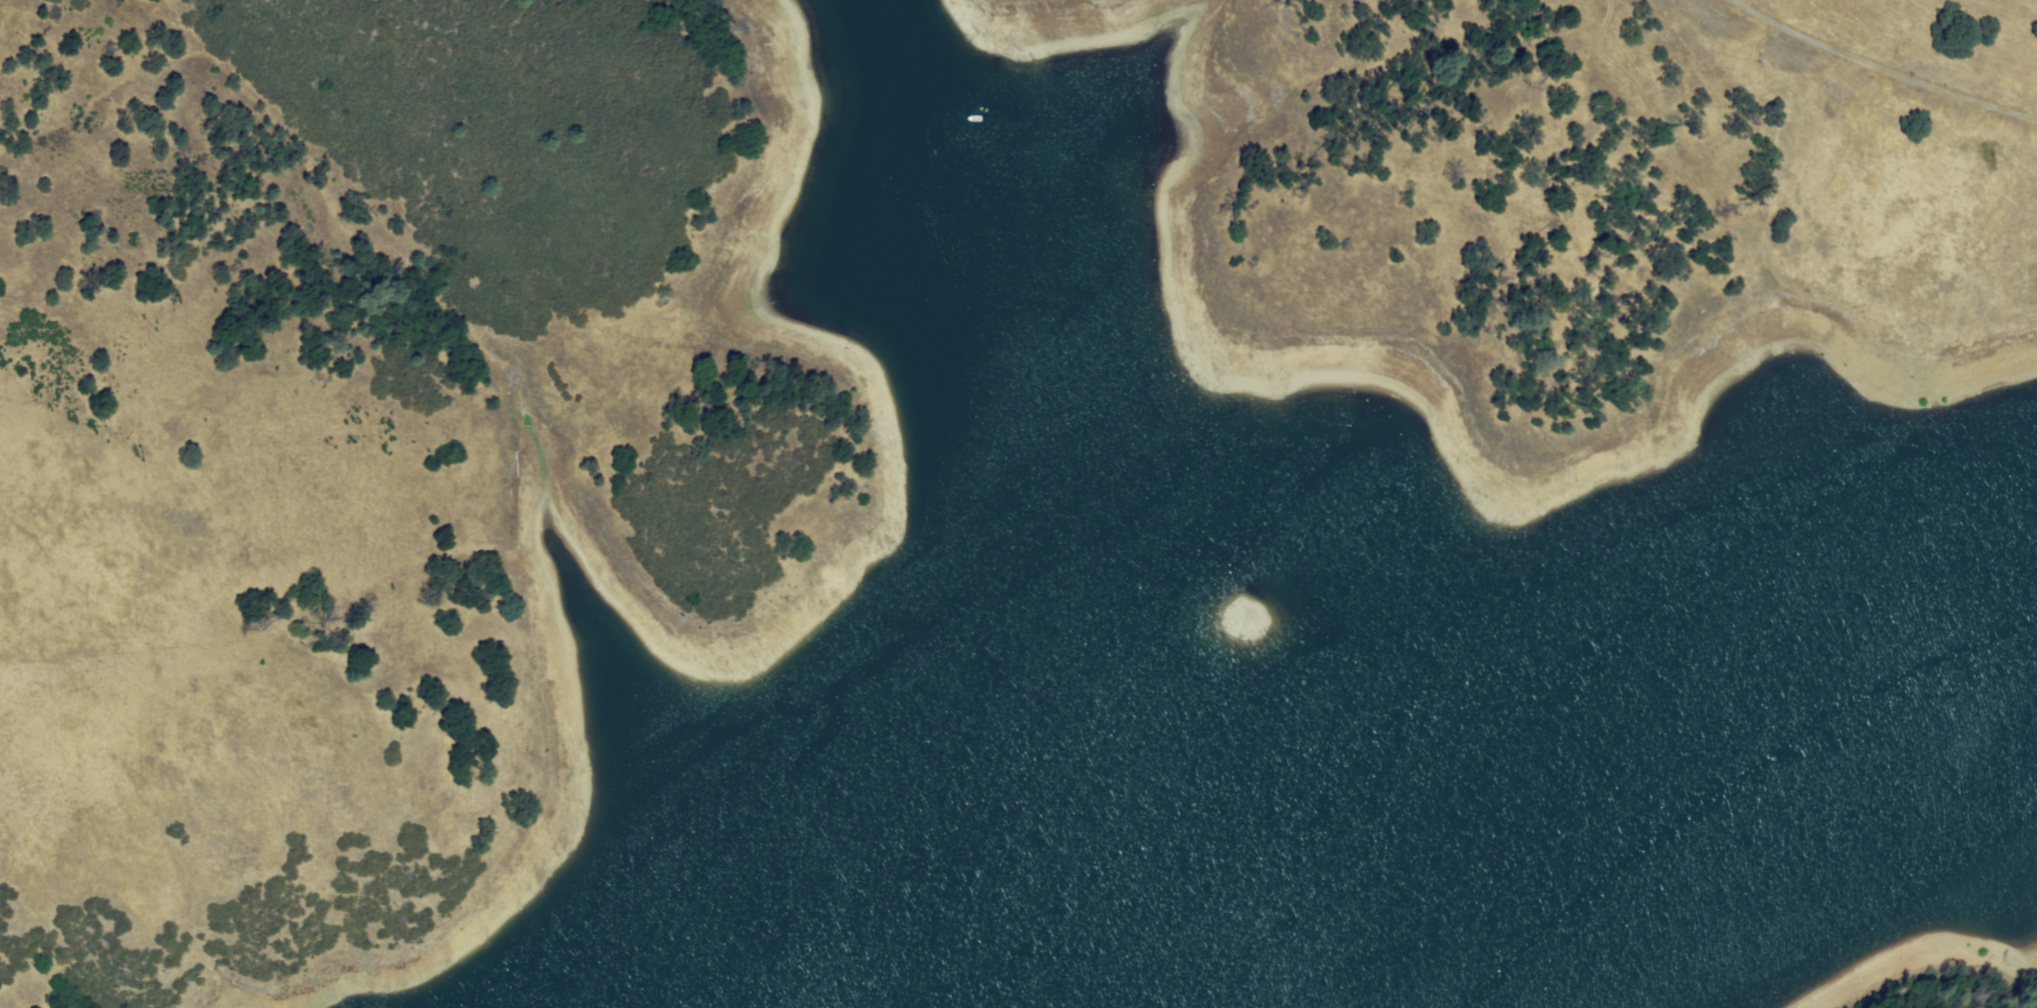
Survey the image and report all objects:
road: (1885, 78)
river: (1575, 746)

